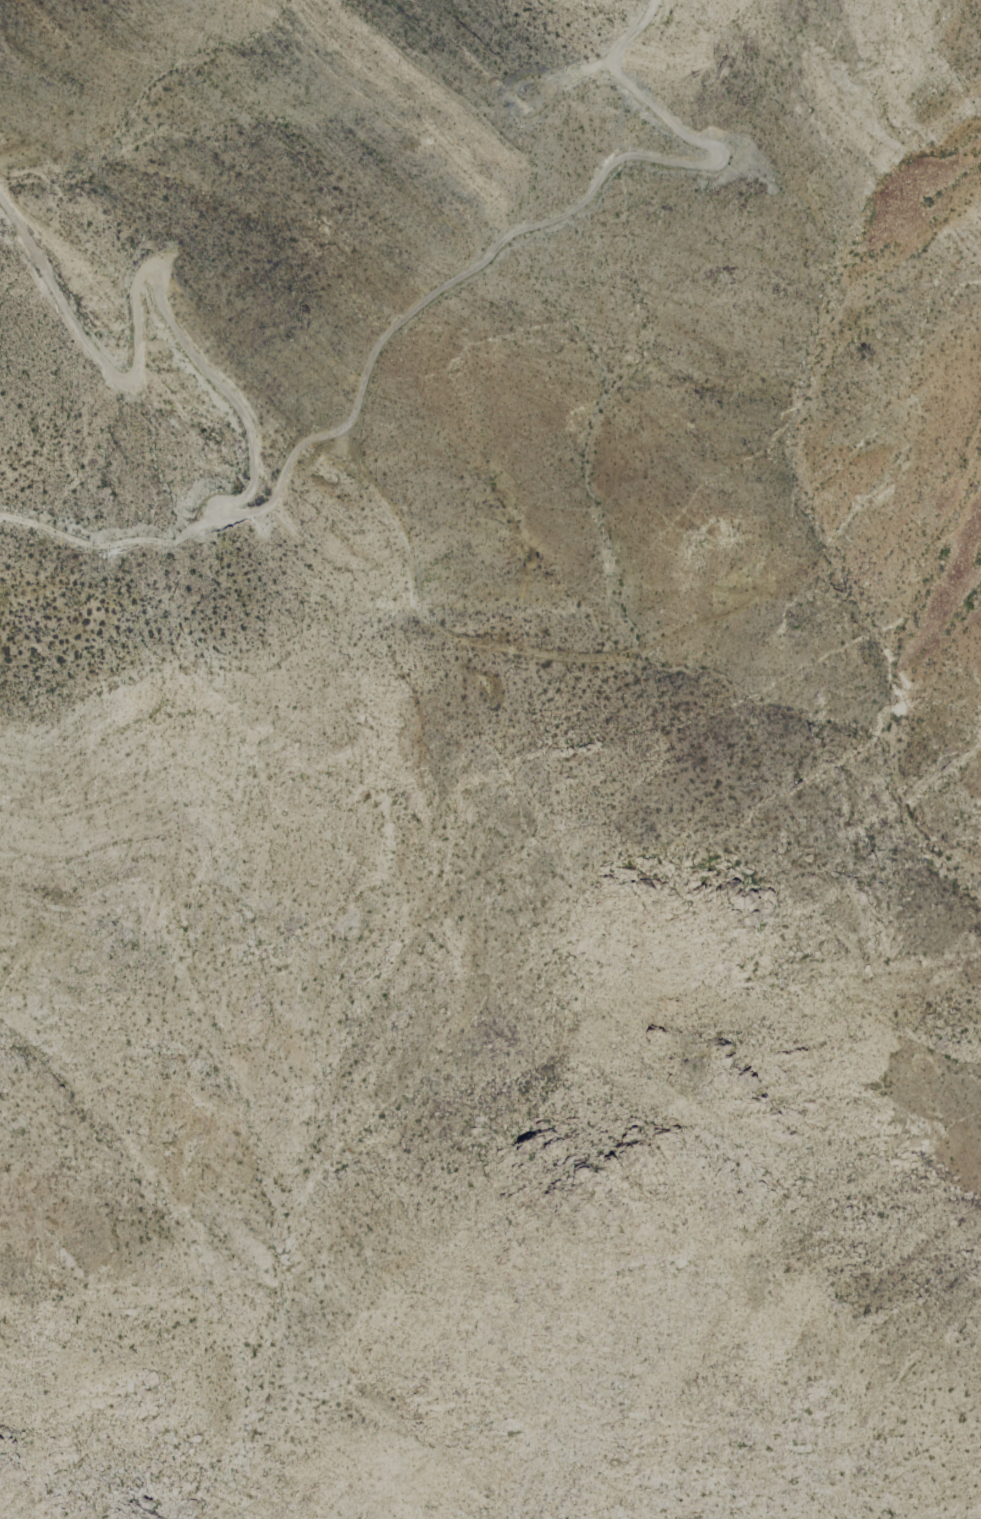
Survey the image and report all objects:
road: (307, 441)

